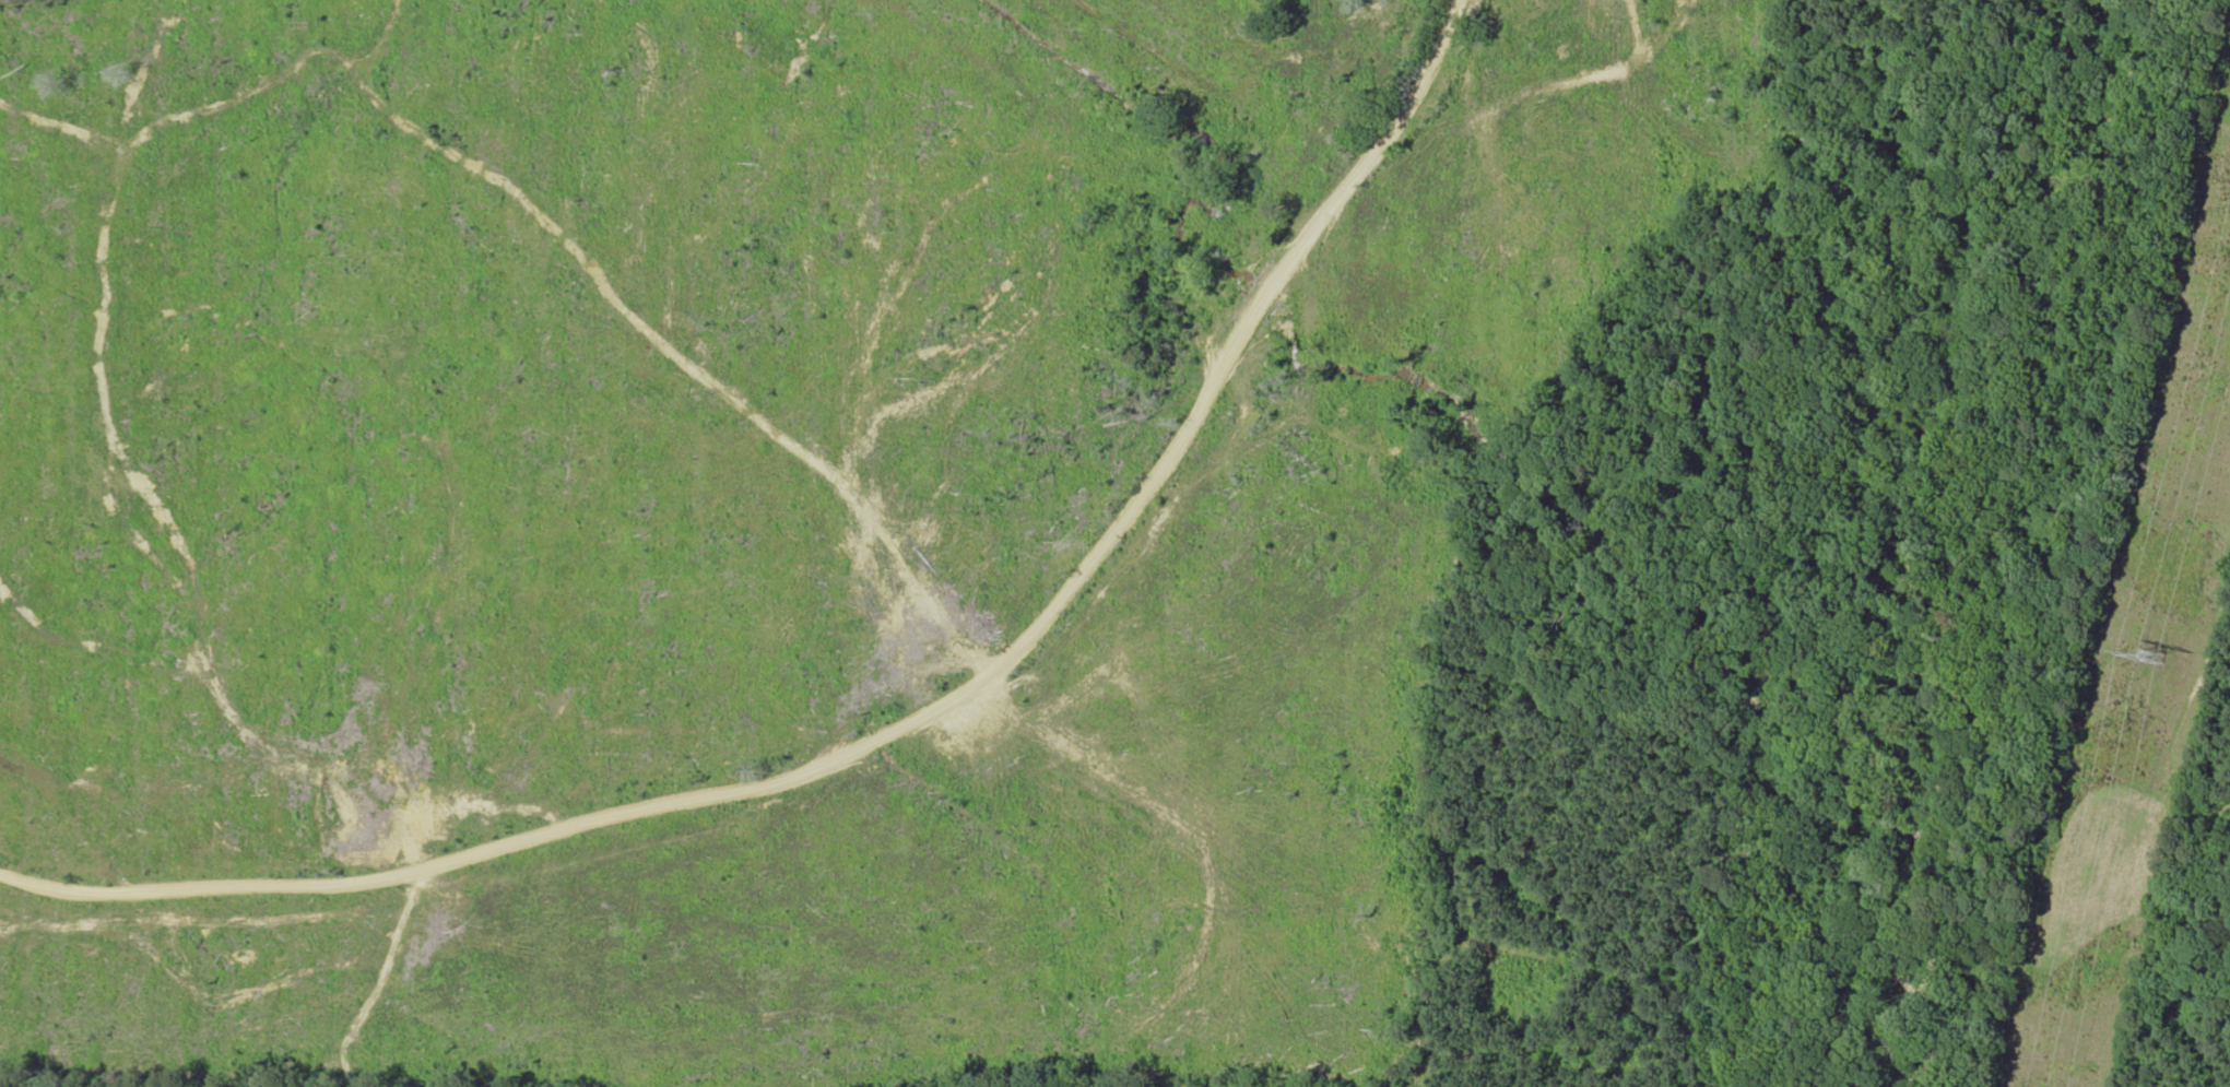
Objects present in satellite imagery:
power tower: (2167, 670)
road: (923, 713)

